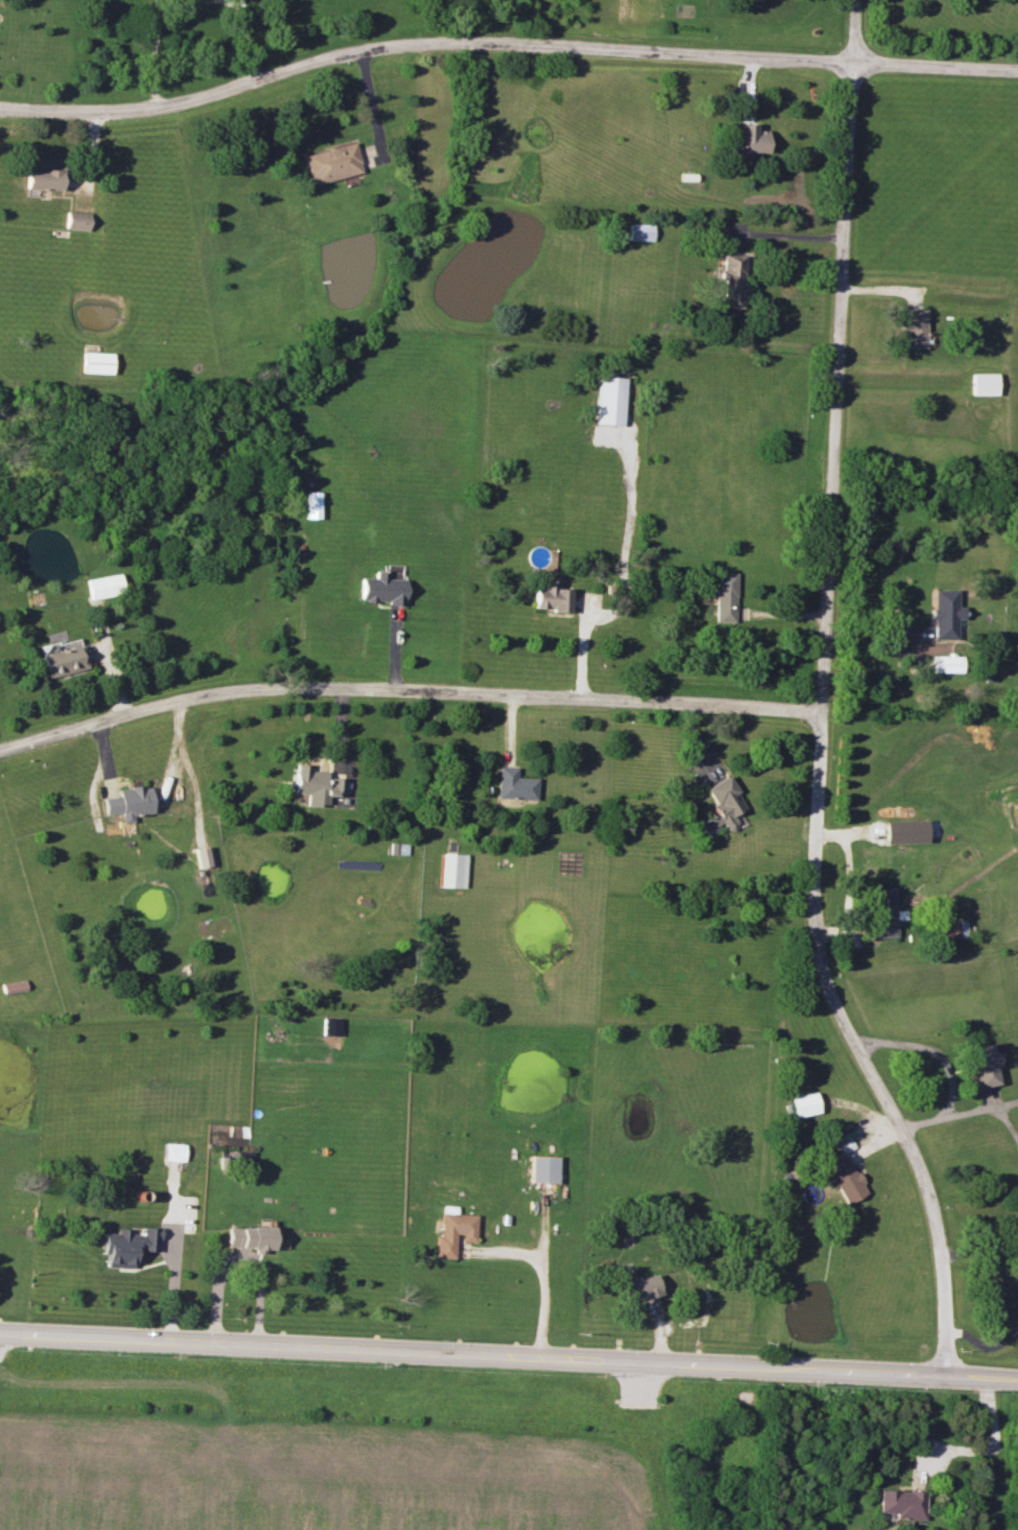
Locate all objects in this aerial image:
road: (246, 37)
road: (504, 45)
road: (154, 54)
building: (751, 138)
building: (332, 163)
building: (44, 179)
building: (78, 220)
building: (639, 232)
road: (785, 235)
building: (731, 280)
building: (913, 328)
building: (97, 362)
building: (983, 383)
building: (608, 399)
building: (312, 504)
building: (104, 585)
building: (382, 588)
building: (724, 596)
building: (550, 597)
building: (945, 613)
road: (875, 631)
building: (62, 657)
building: (946, 663)
road: (406, 690)
road: (821, 701)
building: (514, 784)
building: (315, 785)
building: (129, 802)
building: (721, 806)
building: (904, 831)
building: (400, 848)
building: (203, 856)
building: (452, 870)
building: (883, 912)
building: (950, 929)
building: (13, 986)
building: (332, 1026)
road: (929, 1049)
building: (983, 1066)
building: (802, 1104)
road: (945, 1115)
building: (844, 1145)
building: (1017, 1147)
building: (174, 1151)
building: (543, 1168)
building: (842, 1177)
building: (453, 1233)
building: (251, 1237)
building: (127, 1245)
road: (242, 1258)
building: (1016, 1266)
road: (540, 1276)
road: (1015, 1301)
road: (1013, 1332)
road: (508, 1357)
road: (987, 1448)
building: (900, 1503)

